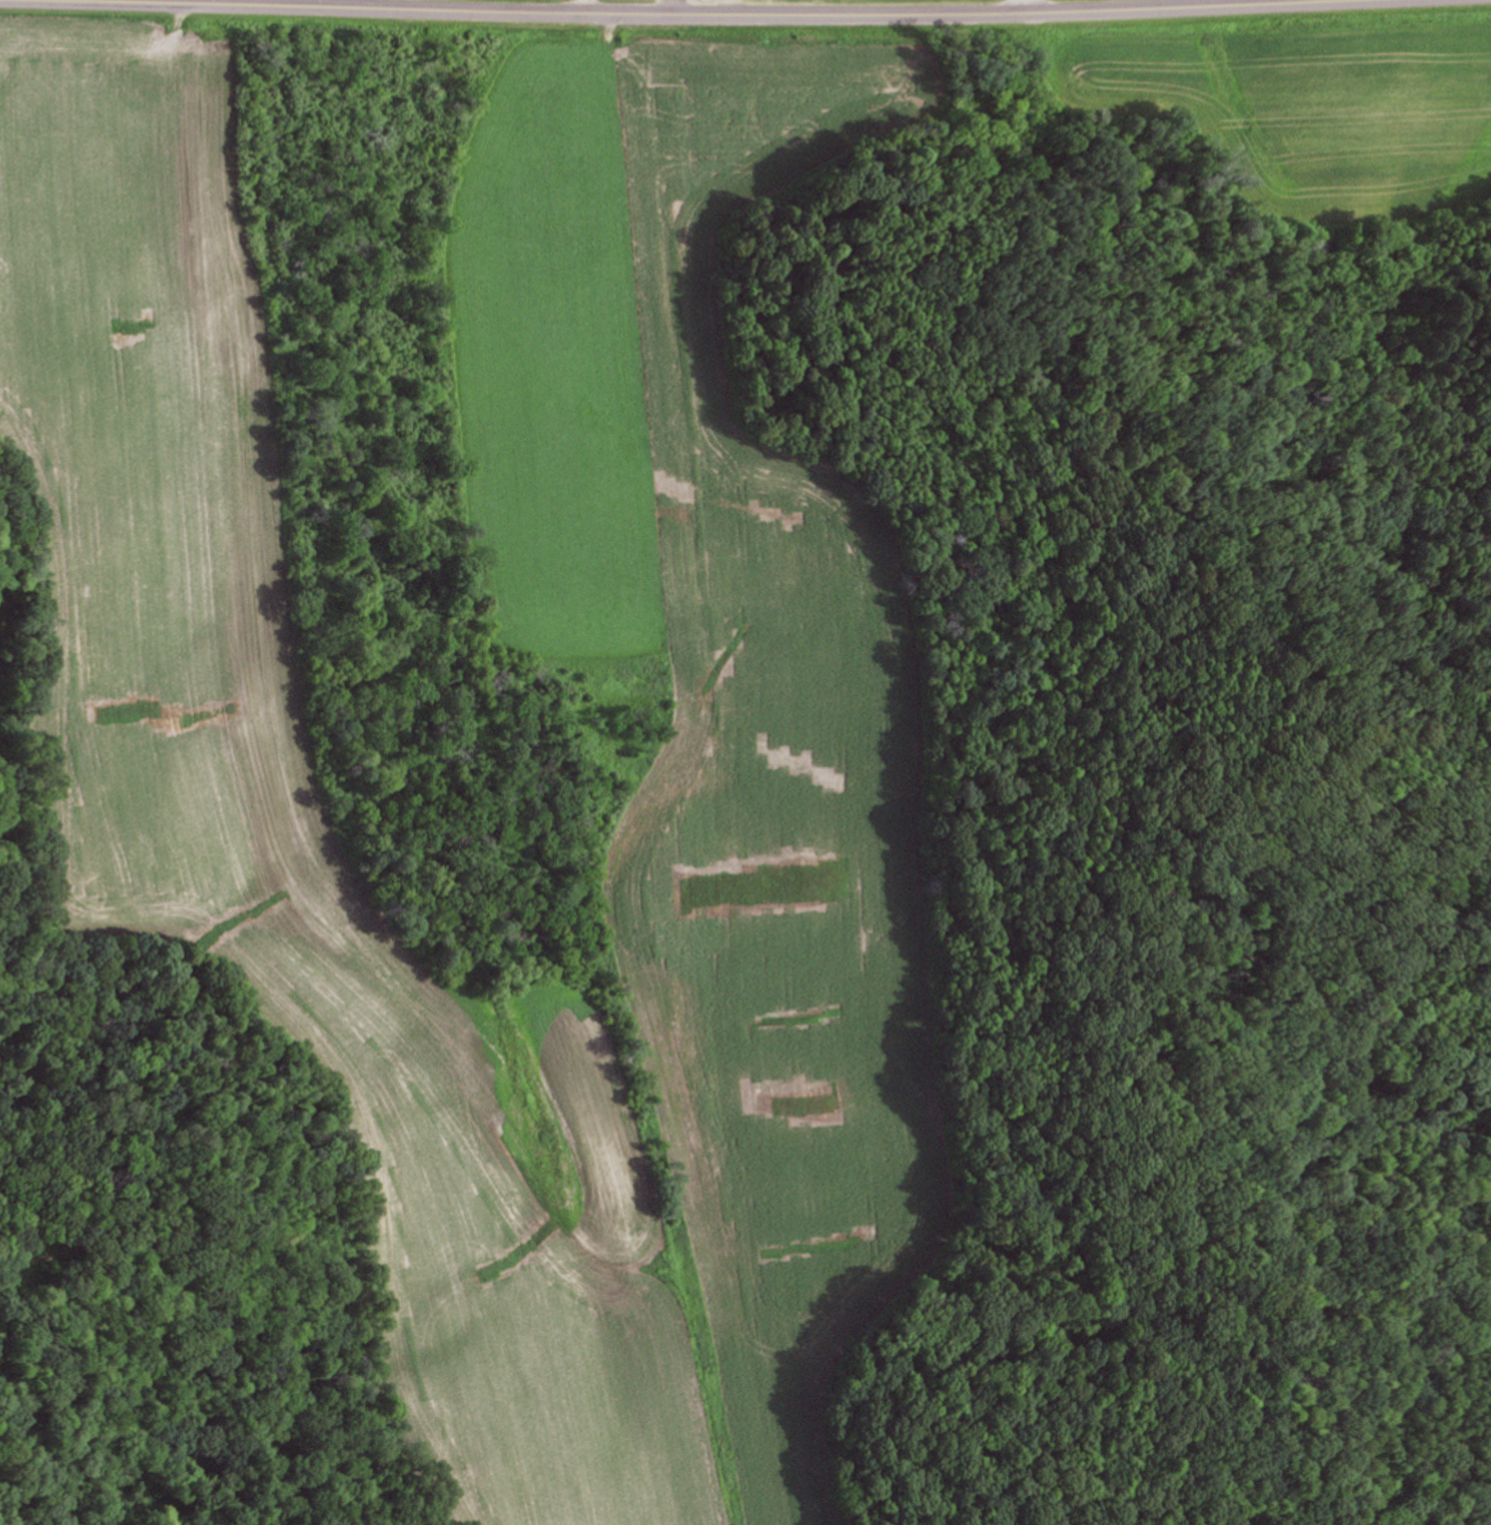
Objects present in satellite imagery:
road: (727, 3)
road: (621, 8)
crop: (1302, 92)
crop: (181, 793)

